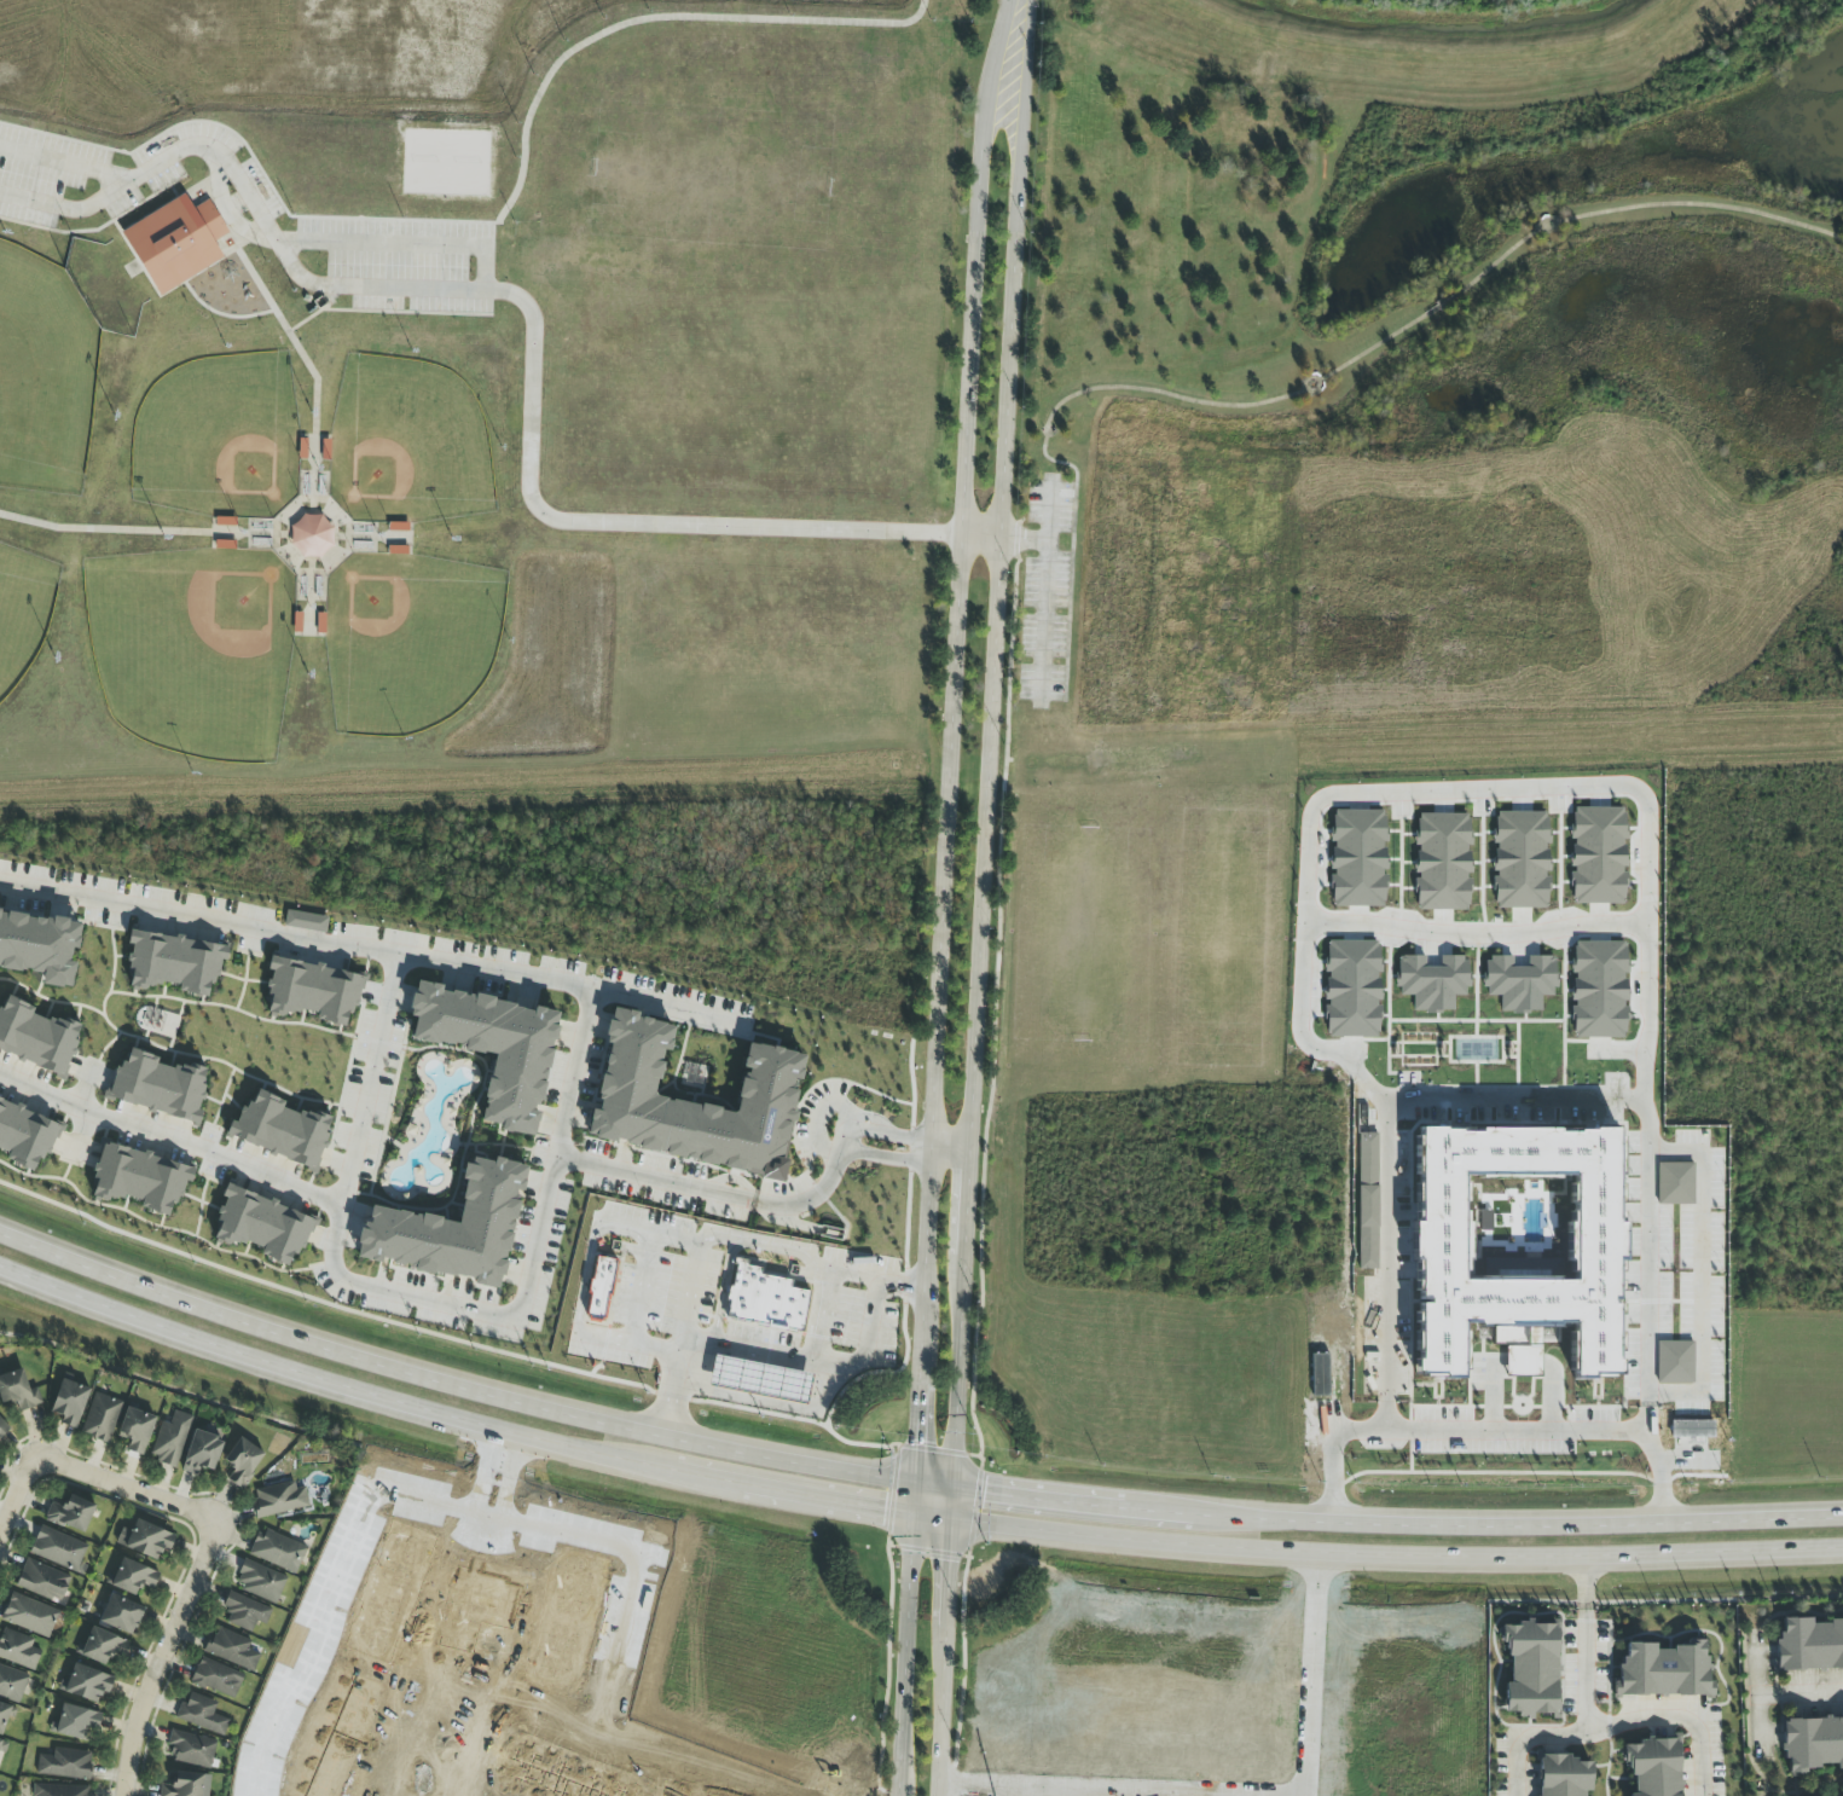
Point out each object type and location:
river: (1467, 30)
park: (348, 56)
road: (993, 74)
road: (1021, 103)
road: (64, 163)
road: (249, 195)
road: (1640, 207)
road: (227, 212)
road: (500, 219)
road: (99, 228)
building: (175, 242)
road: (401, 244)
road: (170, 290)
road: (1443, 306)
park: (1431, 361)
road: (1007, 371)
road: (1094, 389)
park: (466, 402)
road: (627, 523)
building: (311, 537)
road: (980, 537)
road: (1024, 538)
road: (1045, 590)
road: (995, 593)
parking lot: (1048, 593)
road: (951, 741)
road: (1462, 793)
road: (979, 899)
building: (306, 921)
road: (1476, 927)
building: (39, 946)
building: (174, 962)
road: (545, 983)
building: (313, 991)
road: (670, 1006)
road: (993, 1033)
building: (36, 1037)
building: (493, 1048)
road: (369, 1083)
building: (158, 1085)
building: (769, 1087)
road: (1518, 1101)
road: (818, 1113)
building: (280, 1130)
road: (886, 1134)
building: (24, 1136)
road: (852, 1137)
road: (922, 1147)
road: (949, 1149)
road: (883, 1155)
building: (140, 1178)
road: (967, 1204)
building: (1441, 1223)
building: (262, 1226)
building: (453, 1228)
road: (335, 1235)
road: (773, 1250)
road: (590, 1253)
road: (822, 1269)
road: (1699, 1274)
road: (877, 1280)
building: (599, 1290)
road: (692, 1290)
building: (765, 1299)
road: (637, 1315)
road: (868, 1336)
road: (607, 1339)
road: (329, 1346)
road: (789, 1358)
road: (918, 1360)
road: (960, 1372)
building: (1320, 1374)
road: (326, 1381)
road: (179, 1390)
building: (18, 1391)
building: (69, 1402)
road: (773, 1404)
building: (102, 1416)
building: (2, 1426)
building: (135, 1430)
road: (1489, 1433)
road: (915, 1435)
building: (170, 1439)
traffic signals: (915, 1441)
road: (720, 1450)
building: (202, 1453)
building: (242, 1461)
road: (844, 1471)
road: (483, 1473)
road: (713, 1478)
road: (509, 1479)
road: (934, 1485)
road: (122, 1489)
road: (15, 1491)
traffic signals: (985, 1491)
road: (1050, 1496)
building: (278, 1499)
road: (911, 1499)
road: (838, 1501)
road: (956, 1505)
traffic signals: (883, 1510)
road: (1198, 1512)
building: (71, 1513)
road: (933, 1518)
road: (487, 1519)
road: (1546, 1522)
building: (146, 1540)
building: (59, 1549)
building: (277, 1551)
road: (1398, 1554)
road: (951, 1563)
traffic signals: (952, 1563)
building: (133, 1577)
building: (42, 1581)
building: (260, 1582)
building: (244, 1611)
building: (29, 1615)
building: (121, 1615)
road: (1587, 1644)
building: (1809, 1644)
building: (102, 1646)
building: (232, 1649)
building: (18, 1650)
road: (903, 1655)
road: (158, 1656)
building: (1530, 1670)
building: (1663, 1670)
building: (216, 1678)
building: (12, 1684)
building: (86, 1684)
road: (1757, 1692)
road: (1801, 1693)
road: (944, 1701)
building: (201, 1714)
building: (5, 1715)
building: (75, 1721)
road: (1647, 1723)
building: (1812, 1743)
building: (1, 1745)
building: (191, 1749)
building: (65, 1763)
road: (1522, 1767)
building: (1653, 1767)
building: (1563, 1775)
building: (186, 1785)
building: (60, 1790)

